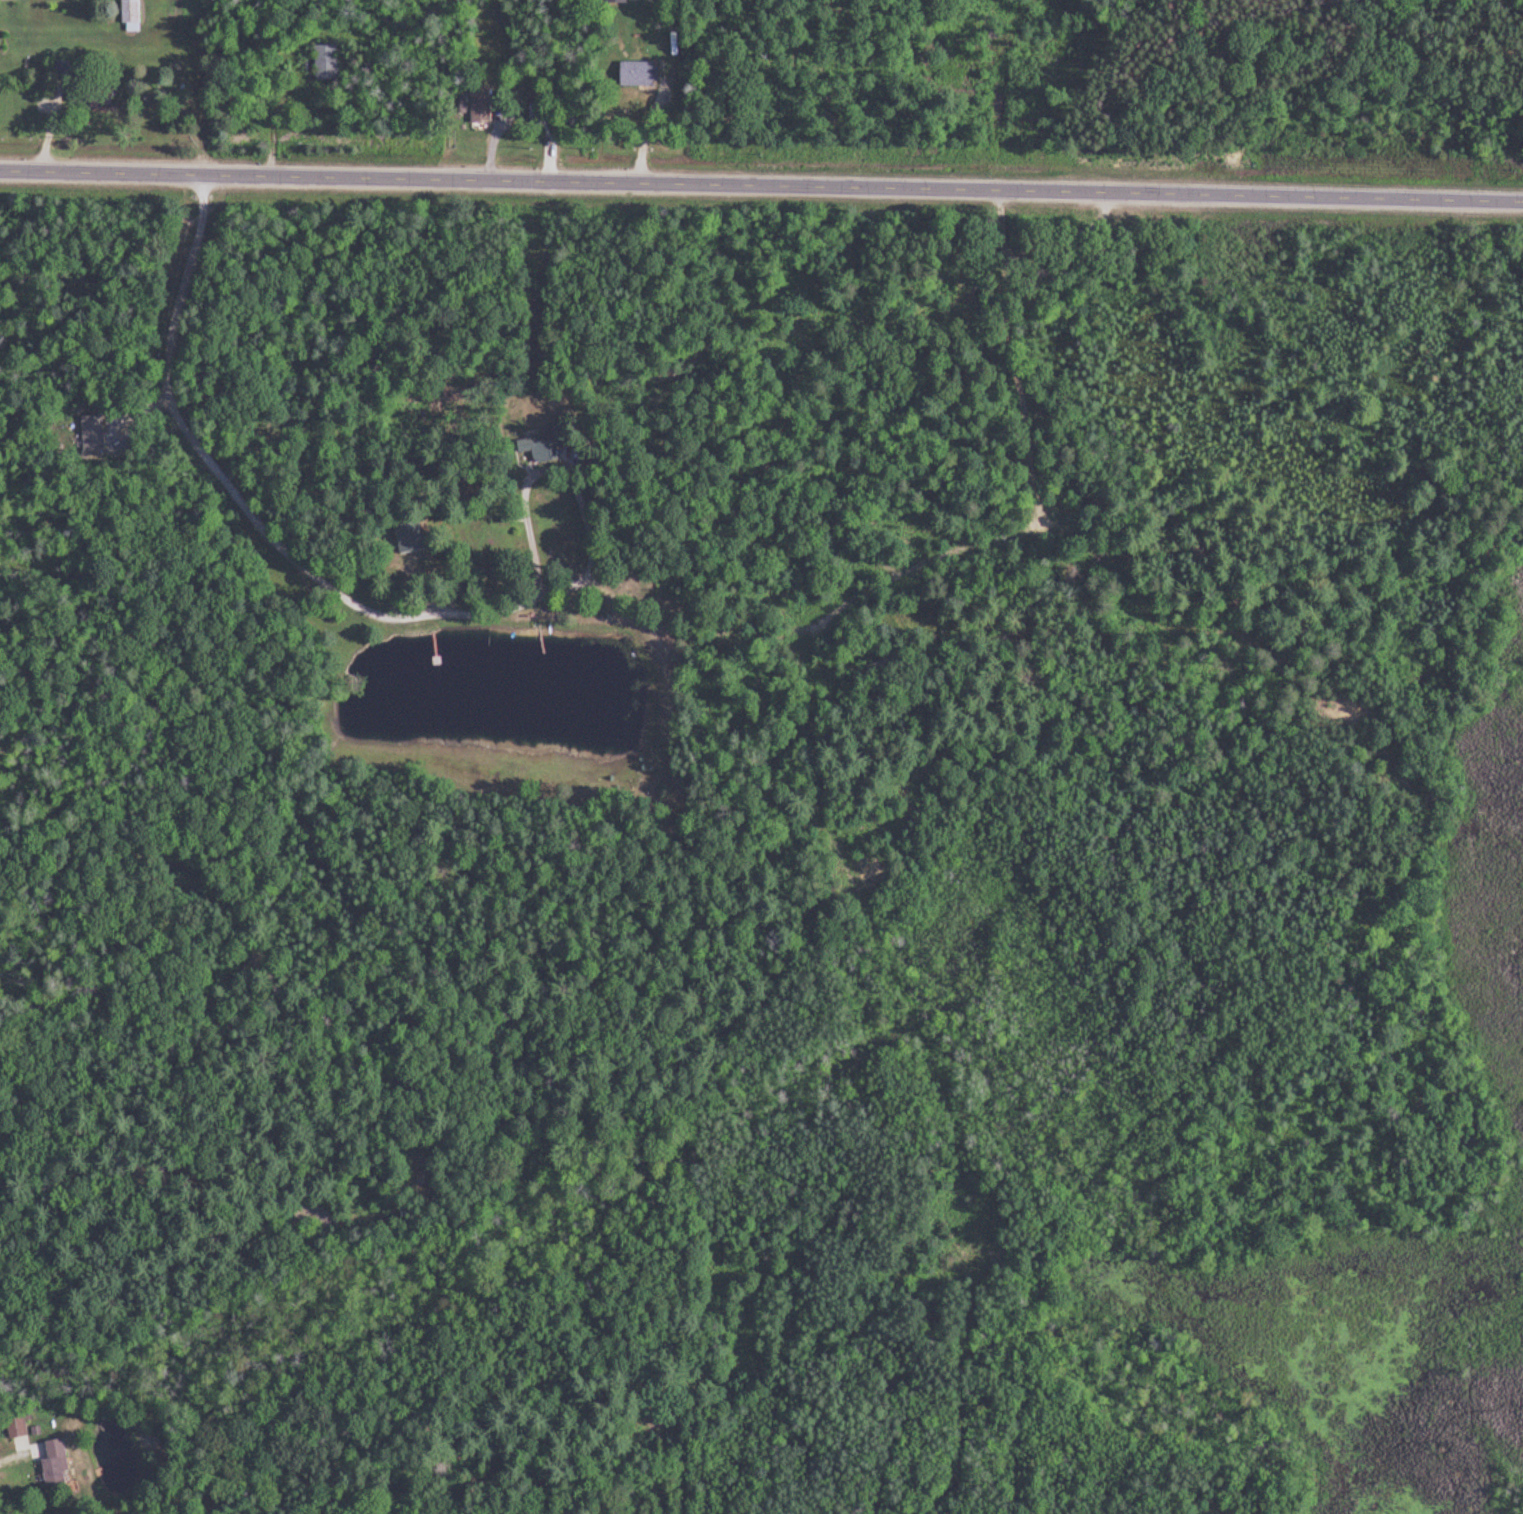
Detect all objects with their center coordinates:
building: (619, 1)
building: (133, 16)
building: (330, 62)
building: (63, 70)
building: (642, 73)
building: (78, 97)
building: (483, 105)
road: (761, 189)
building: (549, 444)
building: (594, 462)
building: (414, 538)
road: (987, 549)
road: (366, 606)
building: (18, 1430)
building: (59, 1464)

